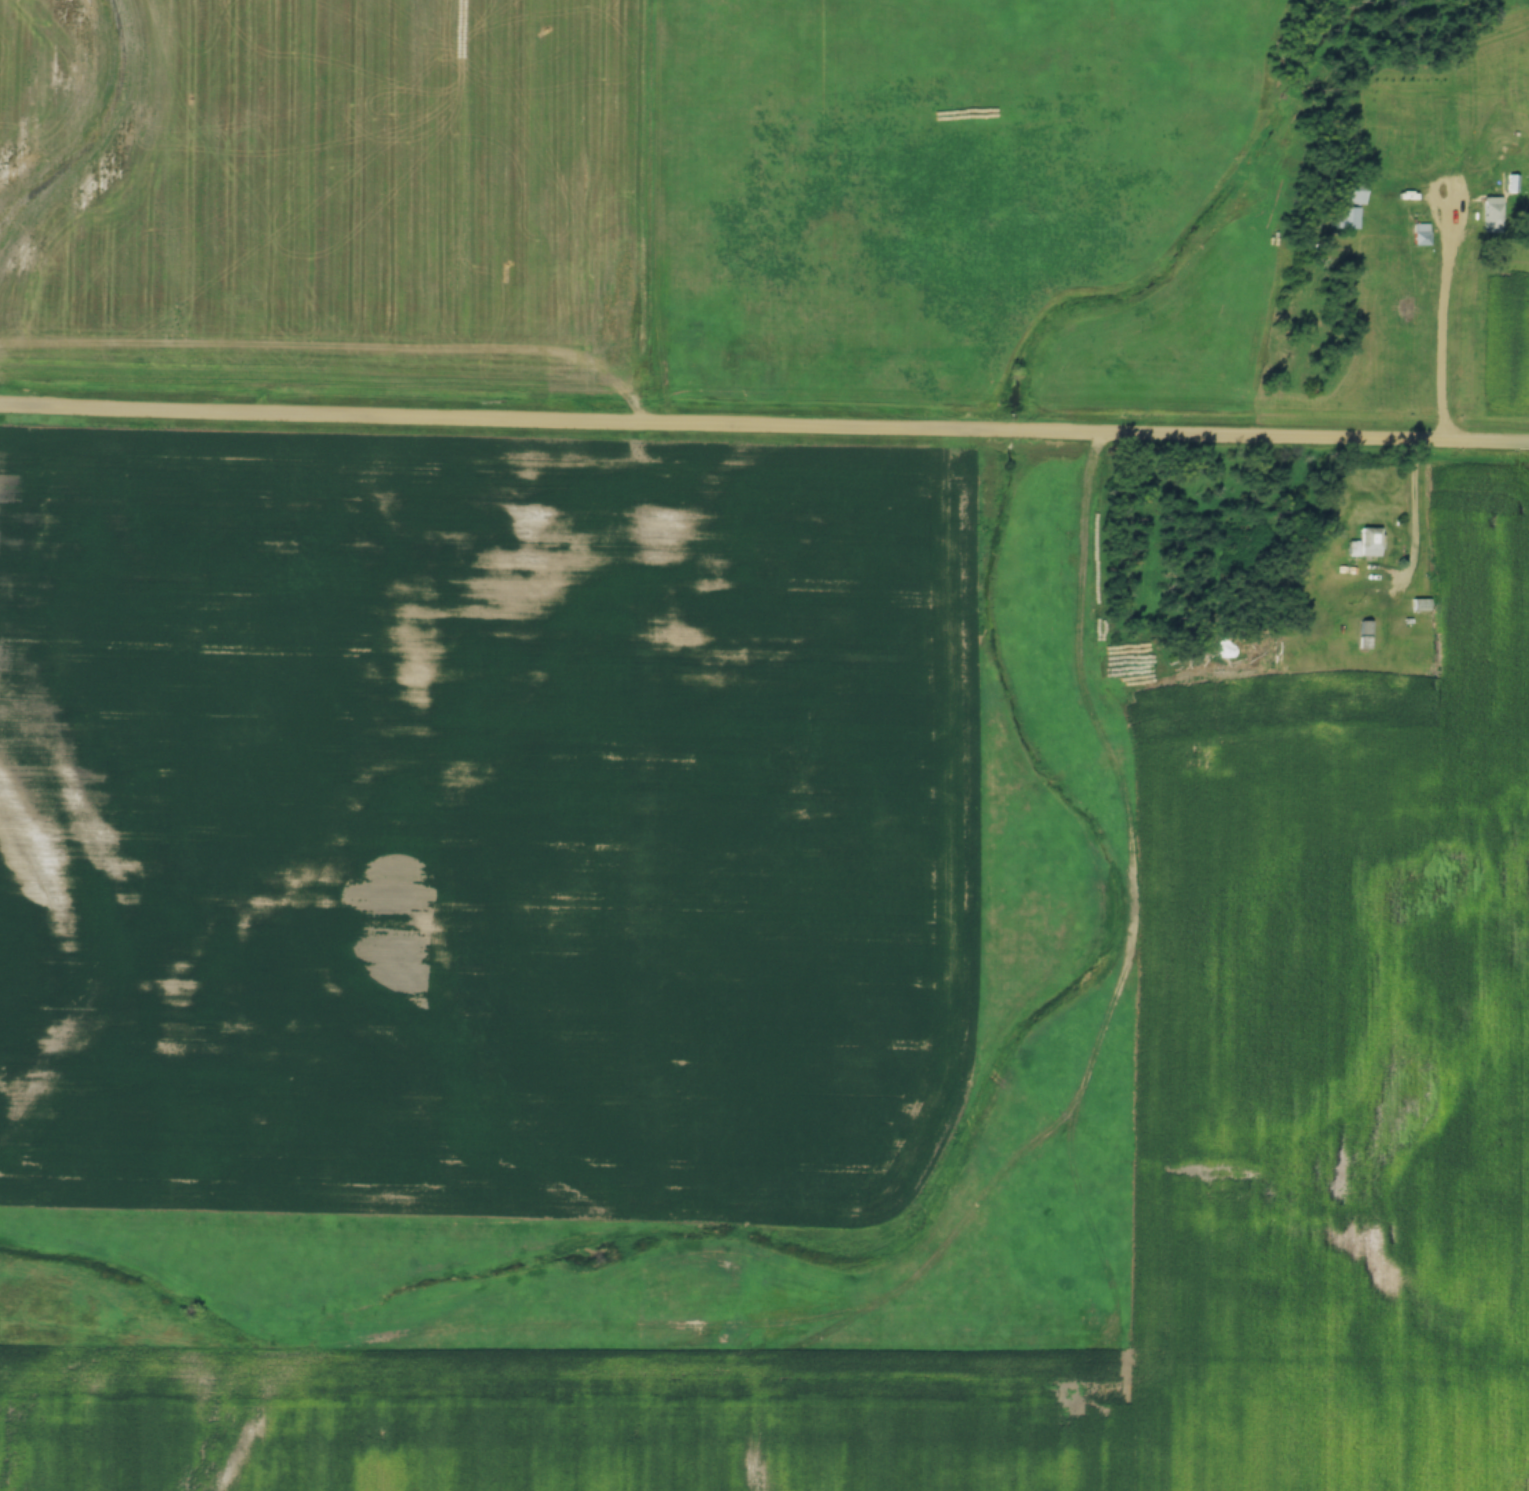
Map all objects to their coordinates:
building: (1355, 195)
building: (1492, 215)
building: (1346, 218)
building: (1421, 234)
road: (1439, 338)
road: (764, 425)
building: (1371, 542)
building: (1411, 633)
building: (1365, 634)
building: (1384, 681)
building: (1454, 699)
building: (1327, 707)
building: (1273, 753)

